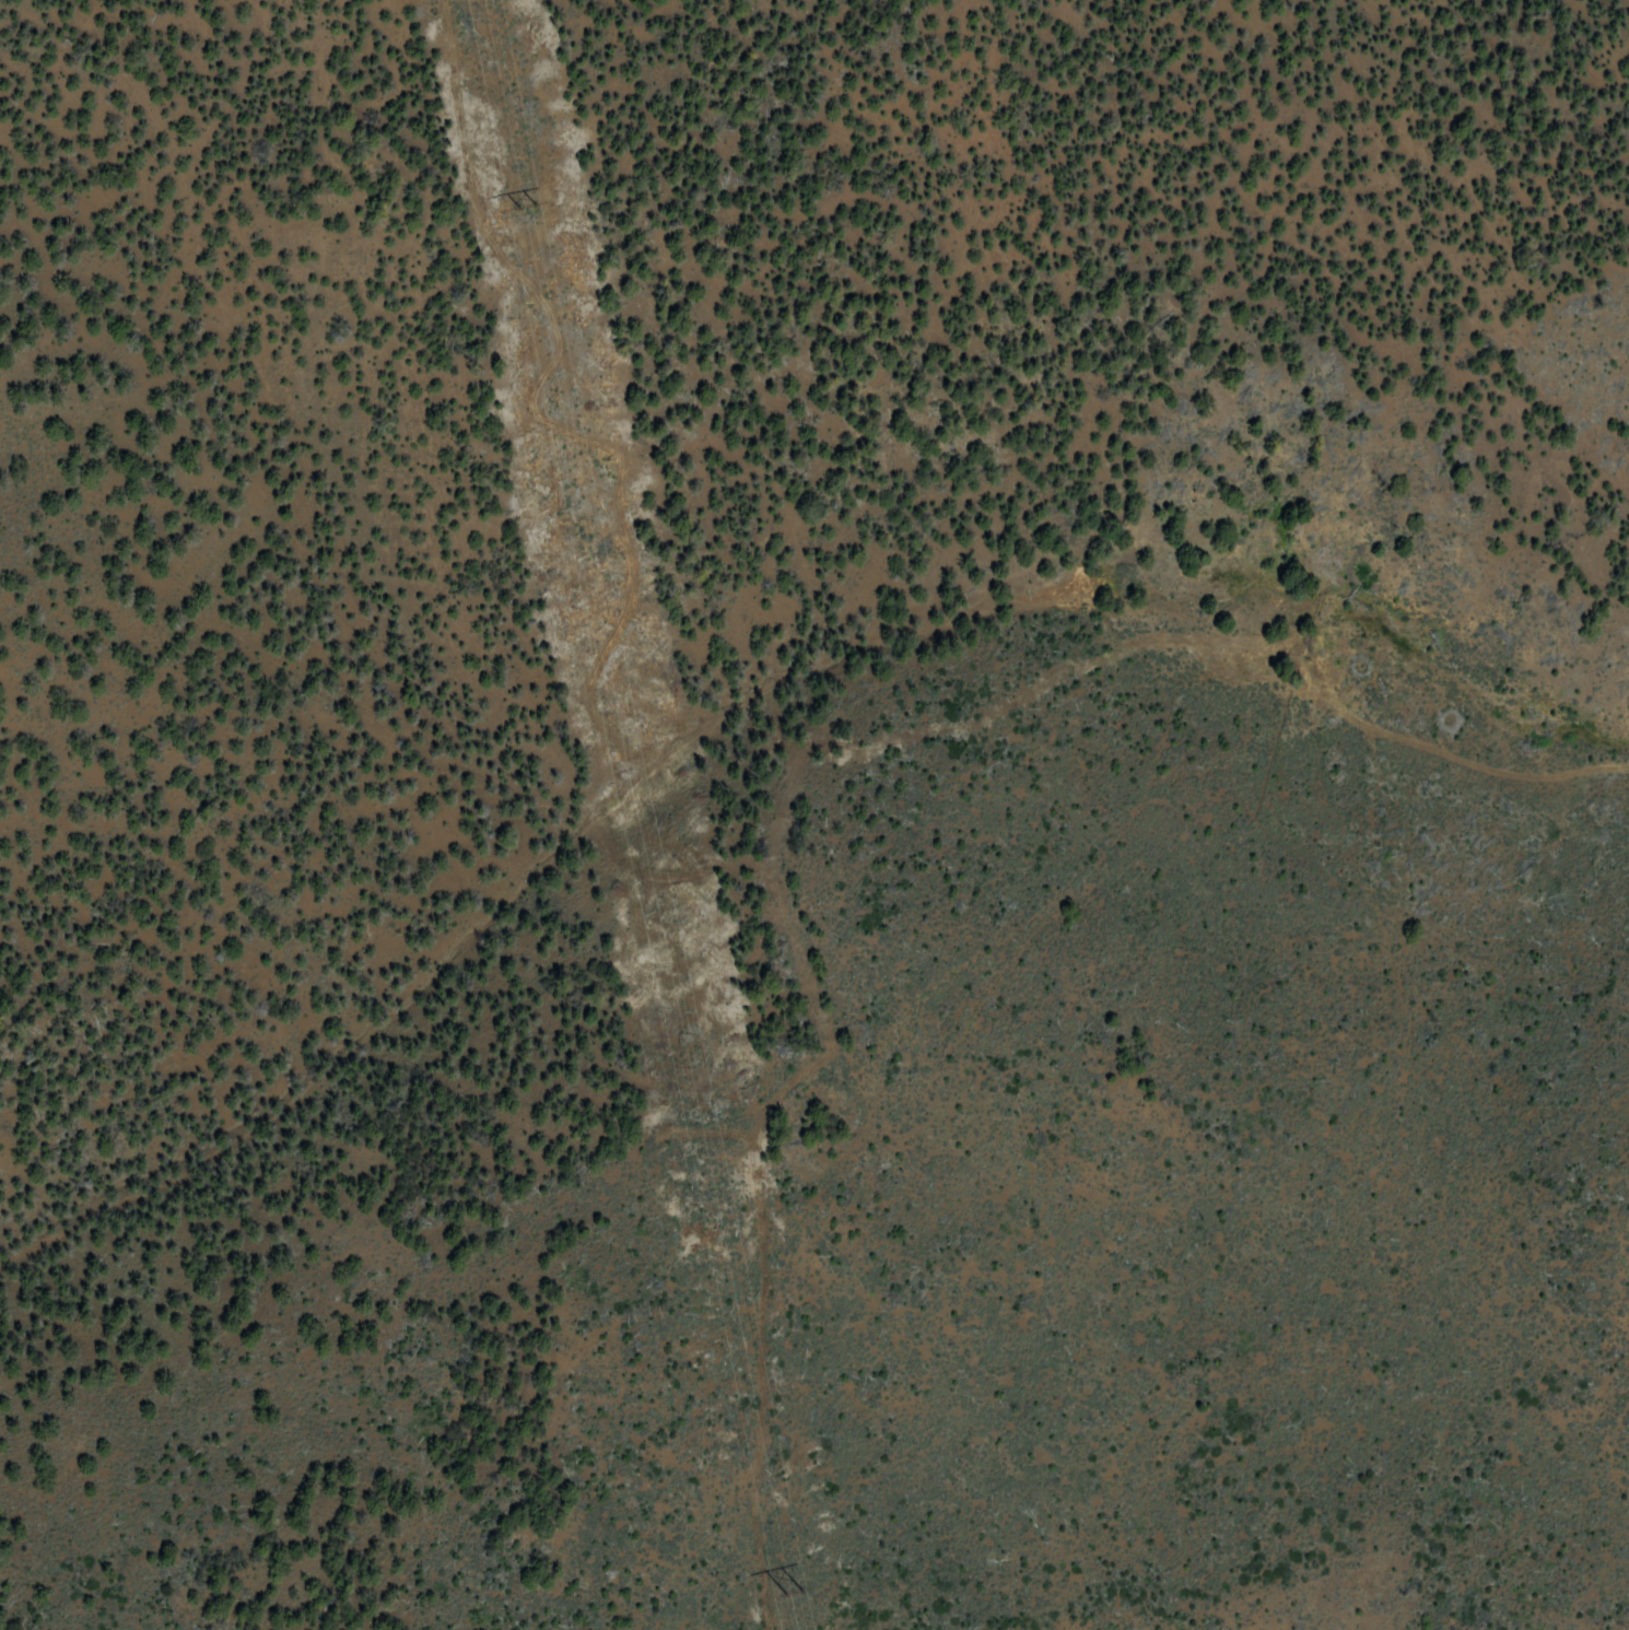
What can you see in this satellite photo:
power tower: (523, 210)
power tower: (793, 1593)

